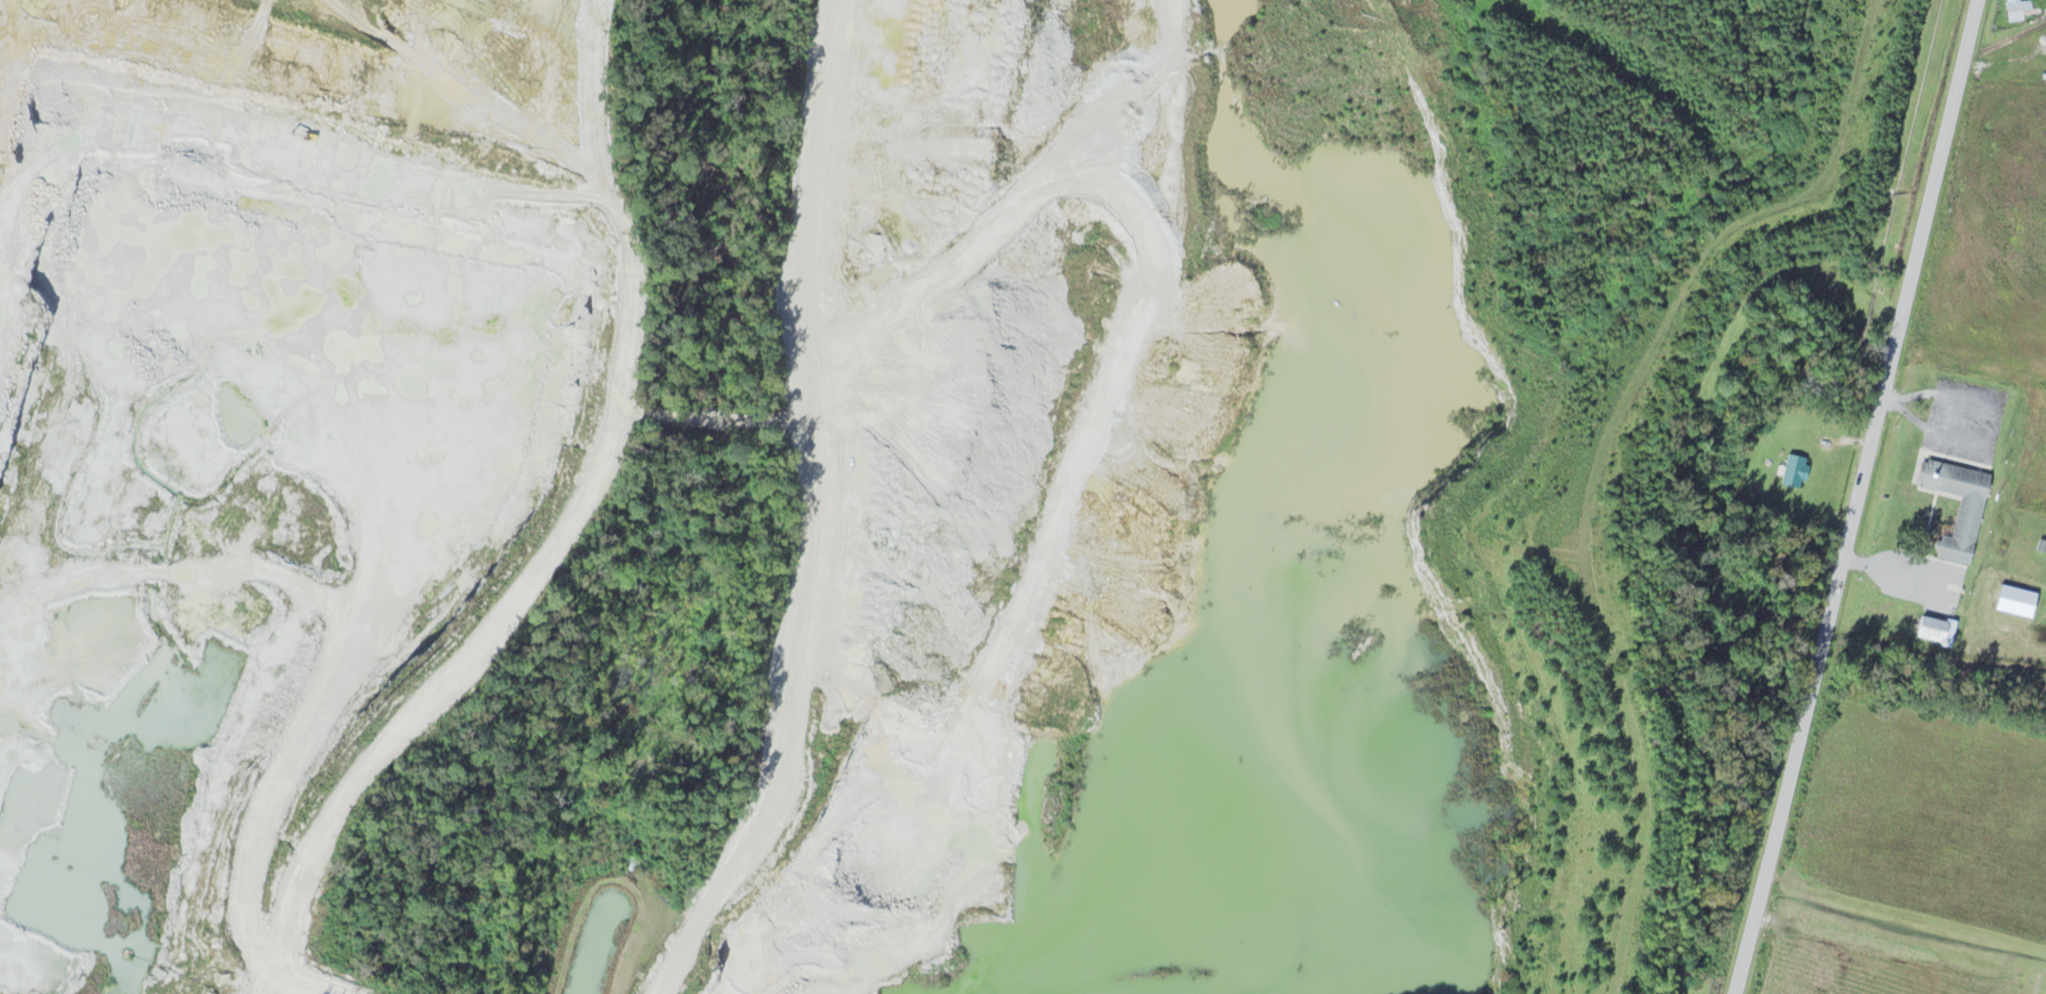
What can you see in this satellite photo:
building: (2021, 9)
crop: (2001, 251)
parking lot: (1965, 419)
road: (1991, 423)
building: (1792, 471)
road: (1853, 496)
building: (1968, 513)
quarry: (1131, 526)
road: (1897, 571)
parking lot: (1920, 577)
building: (2026, 608)
building: (1937, 627)
quarry: (213, 722)

